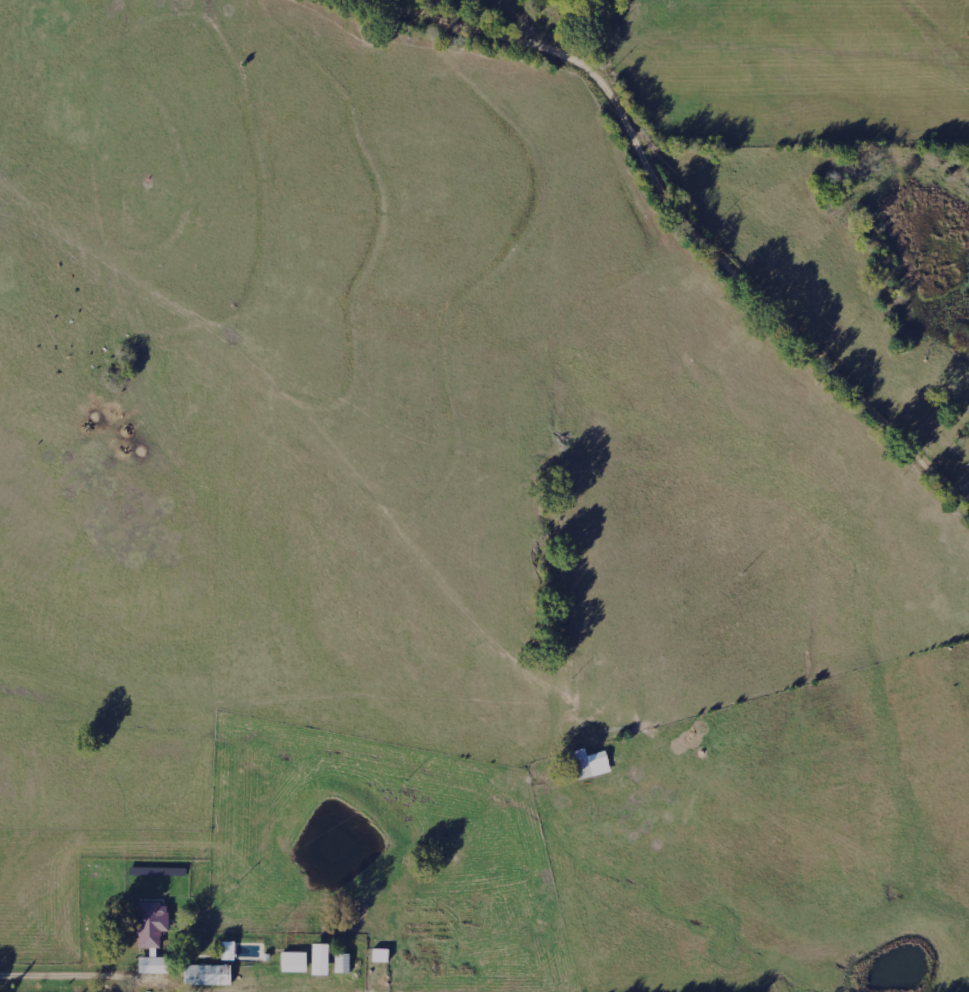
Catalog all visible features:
road: (679, 207)
building: (590, 764)
building: (152, 925)
building: (228, 951)
building: (380, 956)
building: (320, 960)
building: (294, 962)
building: (151, 965)
building: (208, 975)
road: (129, 977)

